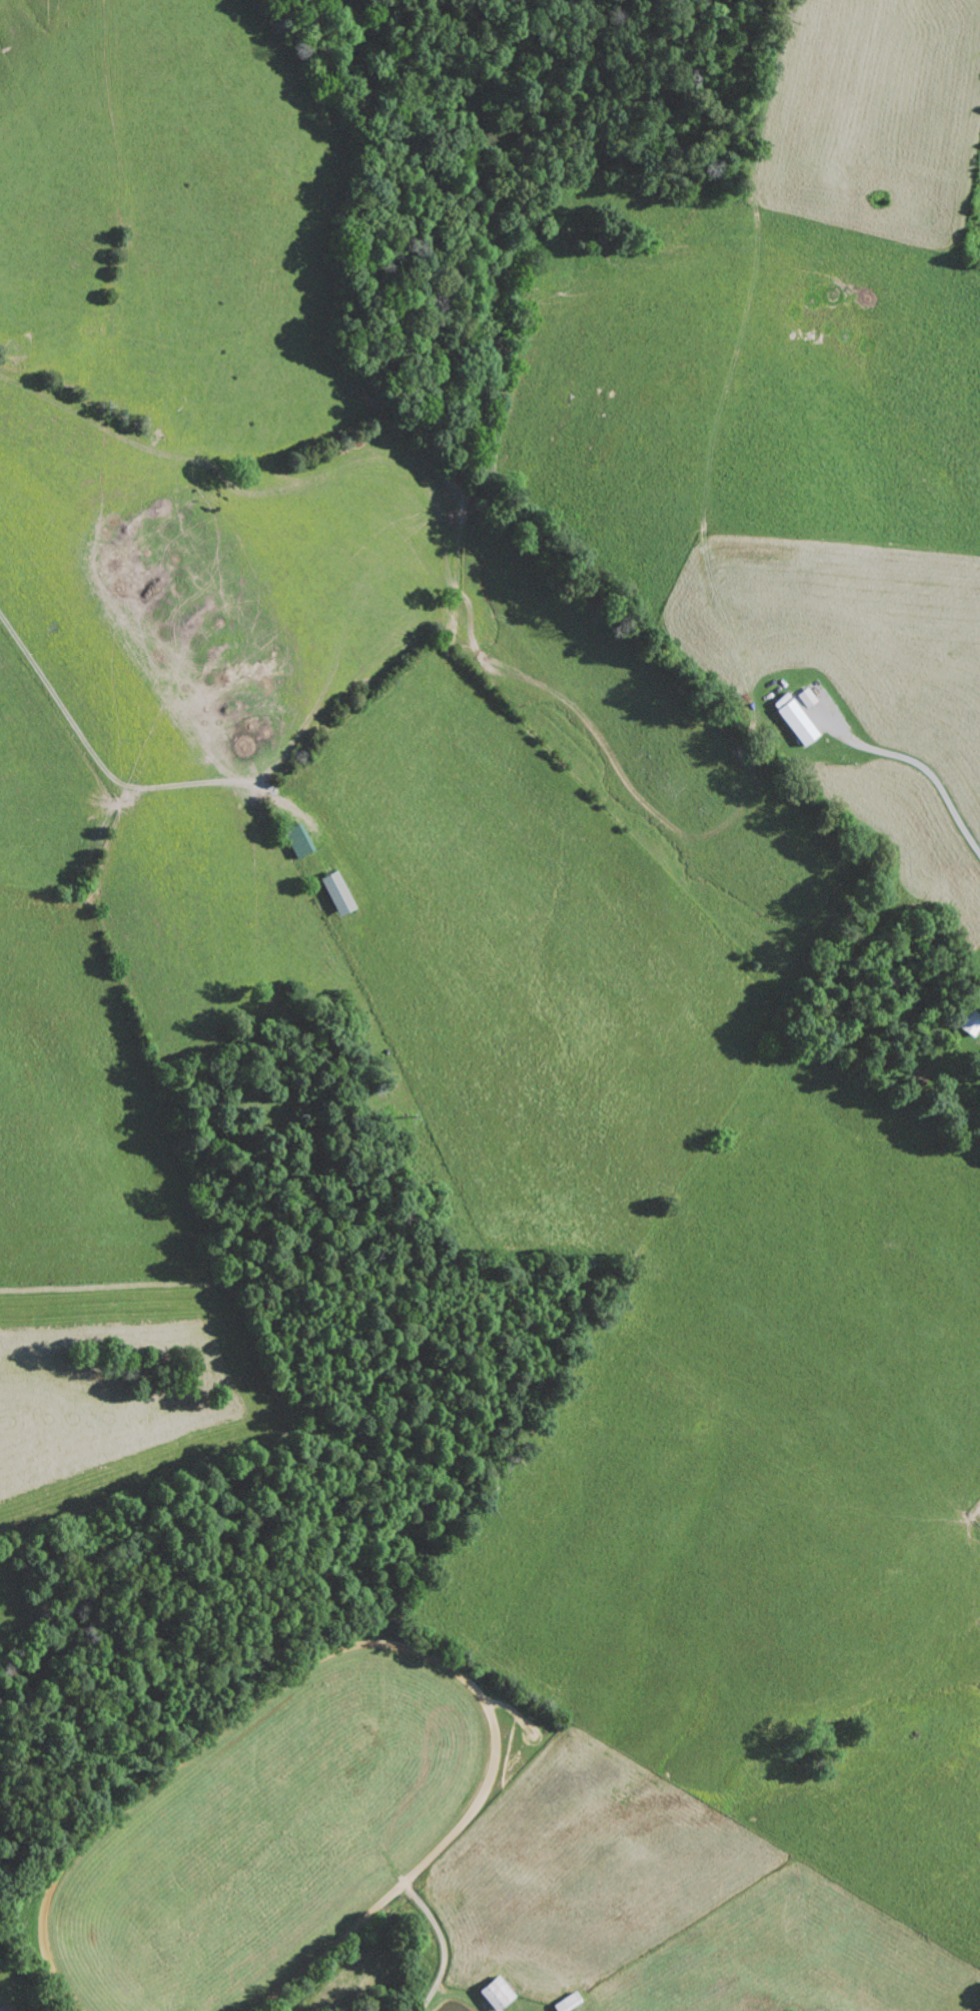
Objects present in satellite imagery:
road: (747, 226)
building: (812, 698)
building: (801, 719)
building: (301, 841)
building: (342, 893)
building: (974, 1022)
building: (501, 1993)

